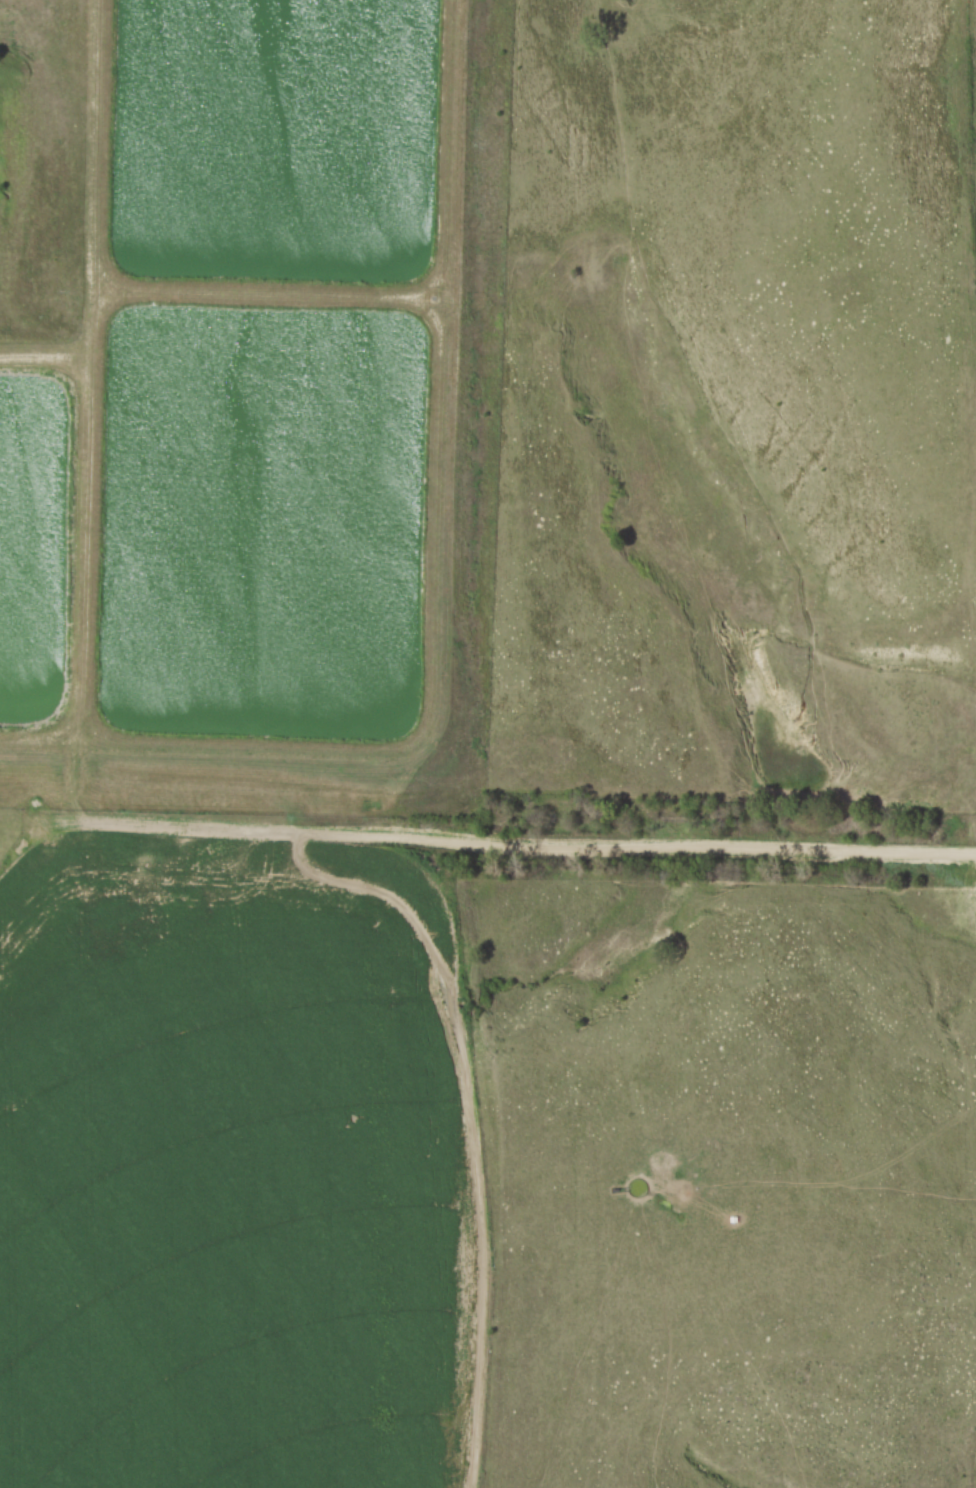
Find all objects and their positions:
wastewater plant: (249, 400)
road: (717, 853)

